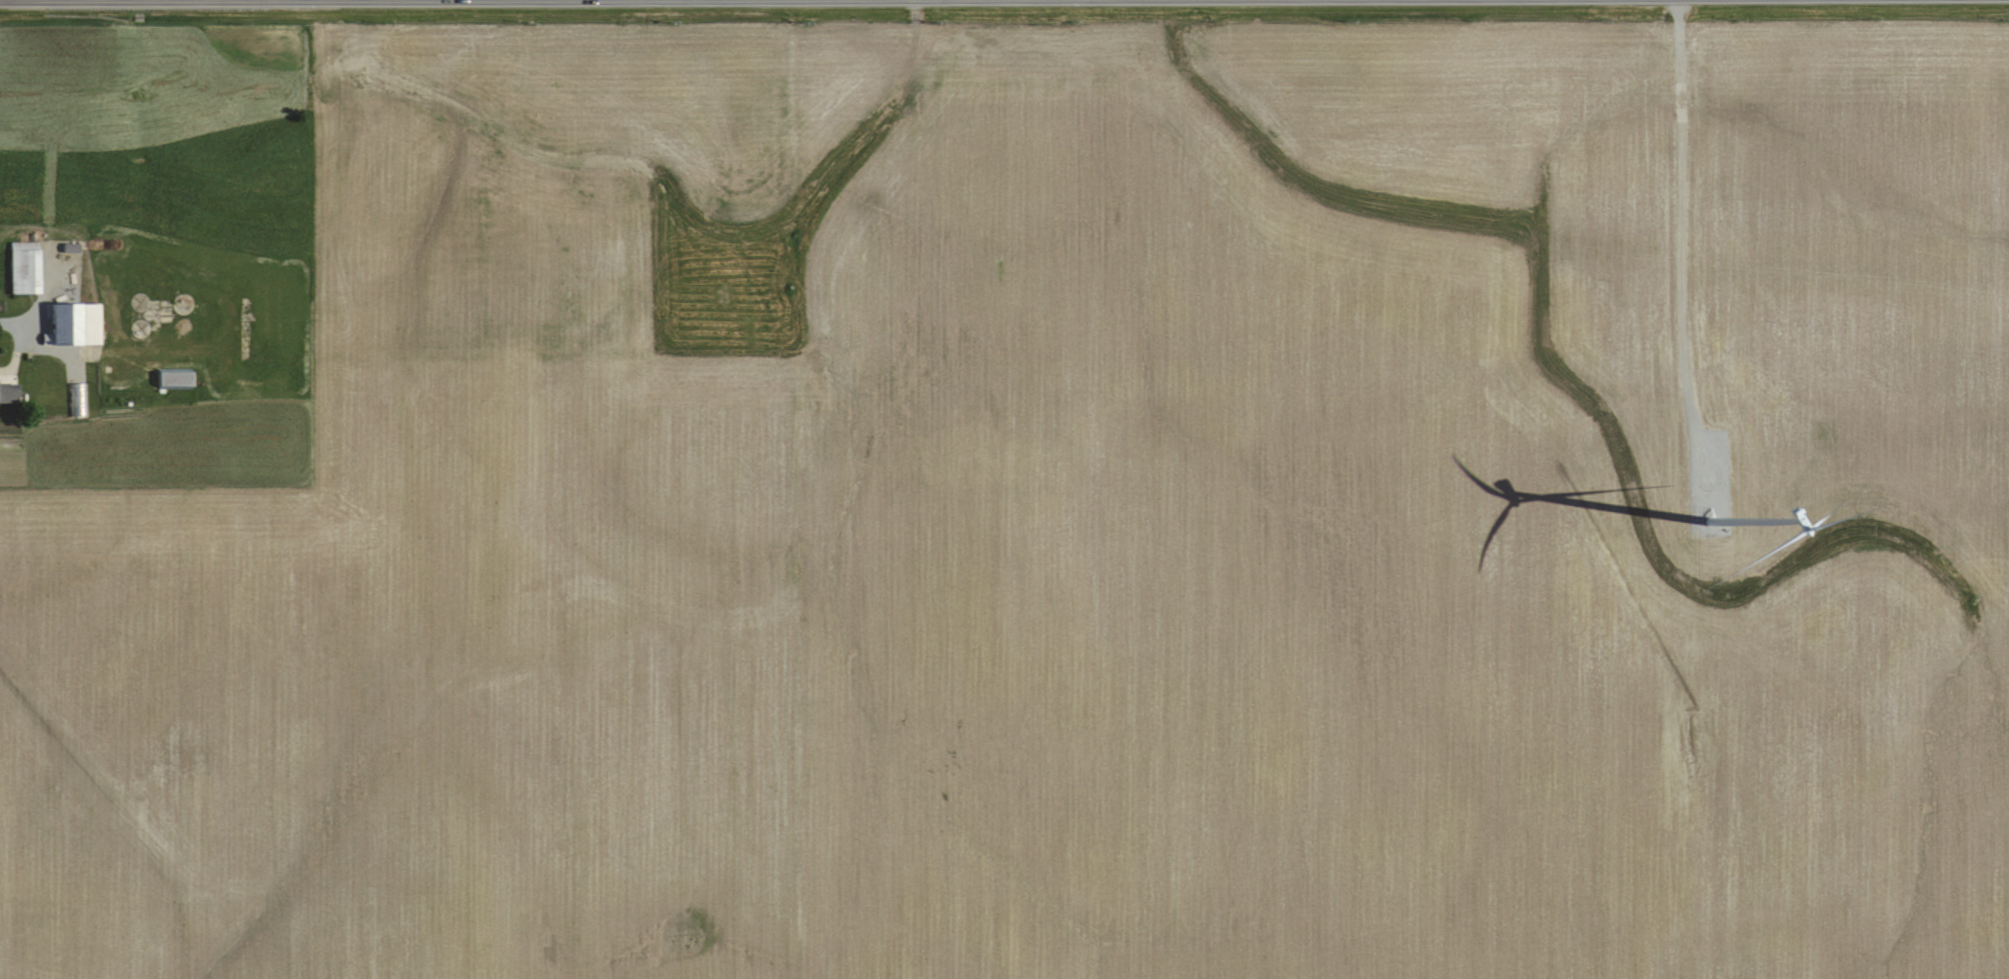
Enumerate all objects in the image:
building: (20, 267)
road: (30, 303)
building: (143, 303)
building: (178, 303)
building: (70, 323)
building: (178, 324)
building: (135, 327)
road: (10, 346)
building: (171, 378)
building: (7, 391)
wind turbine: (1707, 518)

